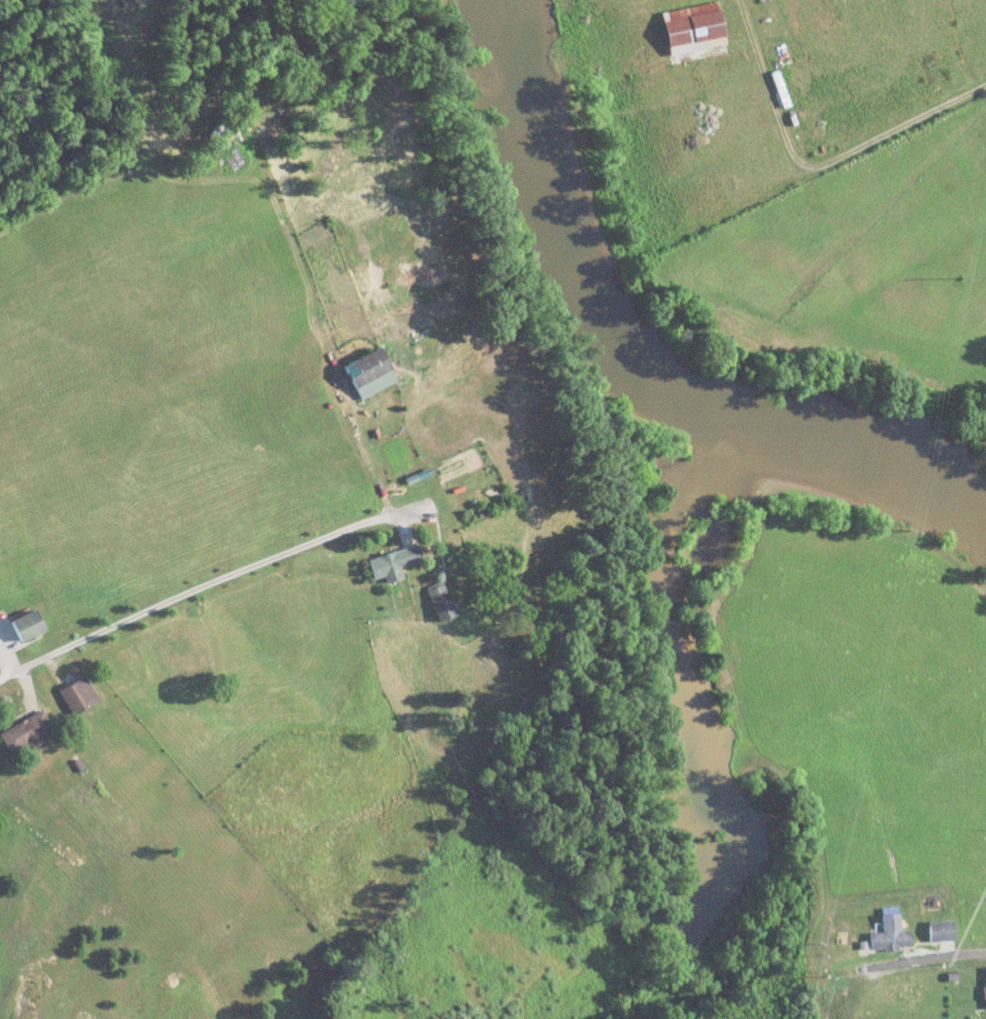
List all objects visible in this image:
building: (696, 30)
river: (640, 355)
building: (373, 373)
building: (397, 564)
road: (203, 583)
building: (443, 602)
building: (31, 625)
building: (81, 696)
building: (28, 733)
building: (944, 932)
building: (892, 934)
road: (926, 963)
building: (909, 994)

